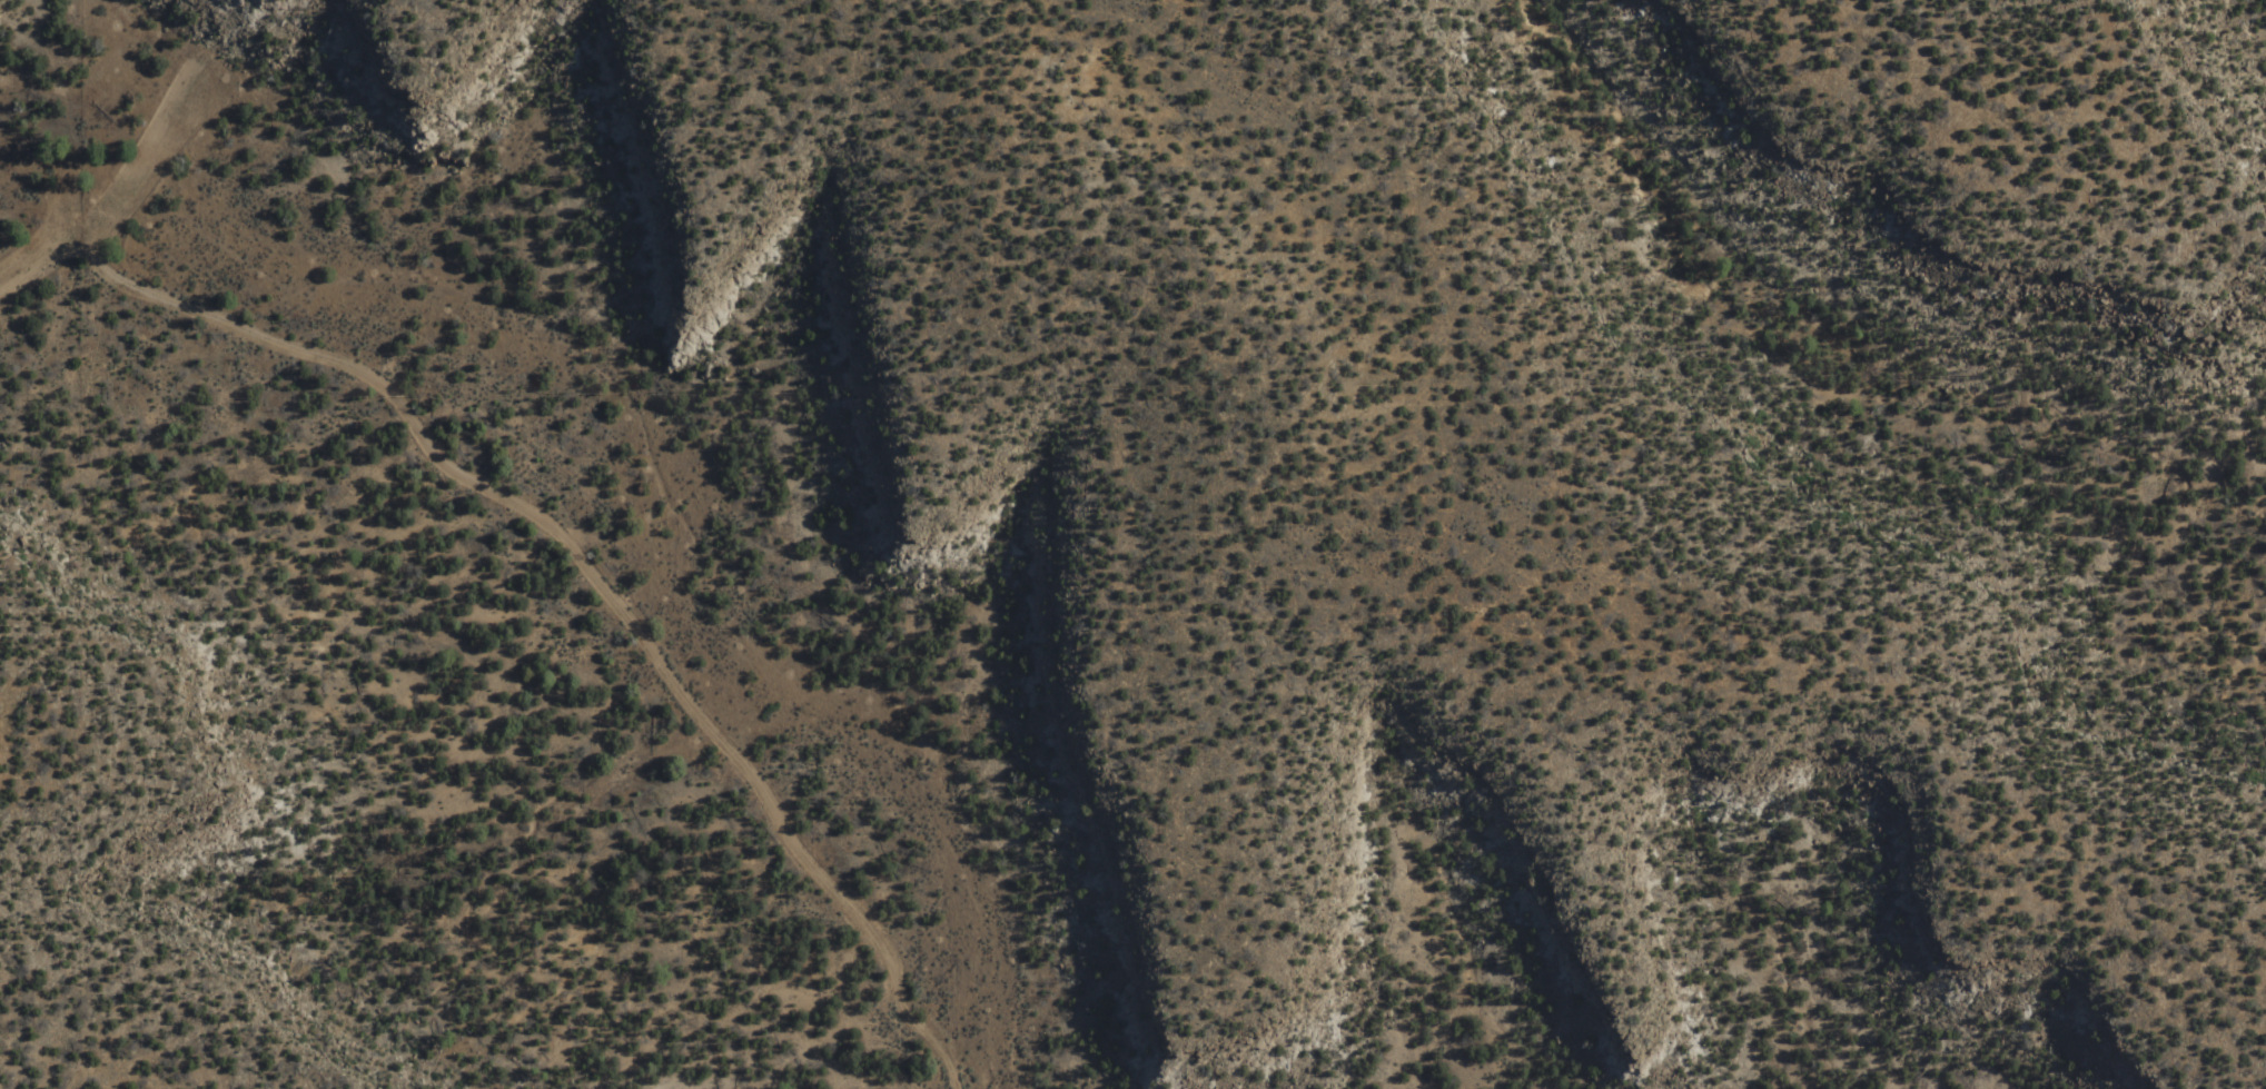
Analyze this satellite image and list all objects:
road: (27, 255)
road: (593, 568)

